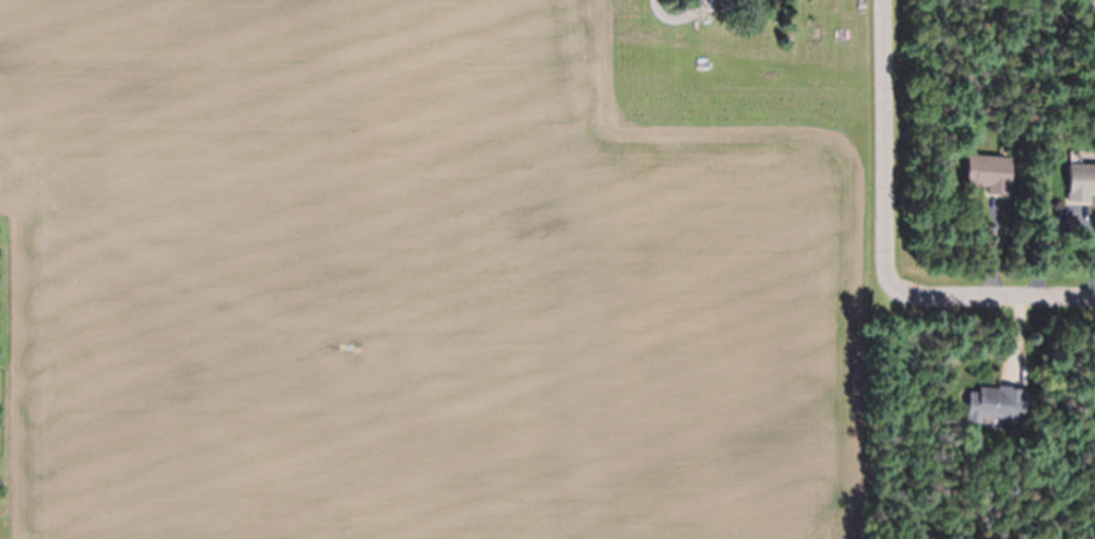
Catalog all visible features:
building: (727, 5)
building: (832, 7)
road: (885, 147)
building: (989, 173)
building: (1082, 182)
crop: (419, 280)
road: (996, 296)
building: (995, 403)

